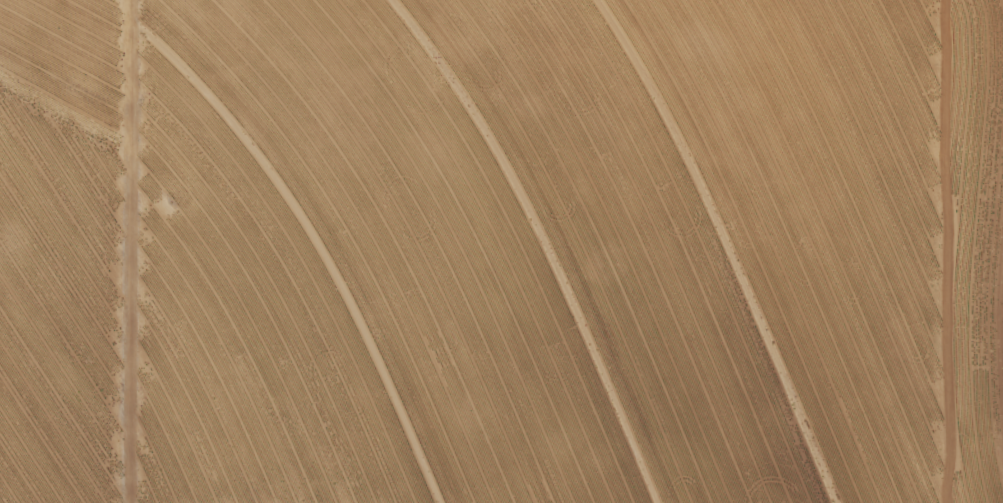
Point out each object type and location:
road: (936, 251)

